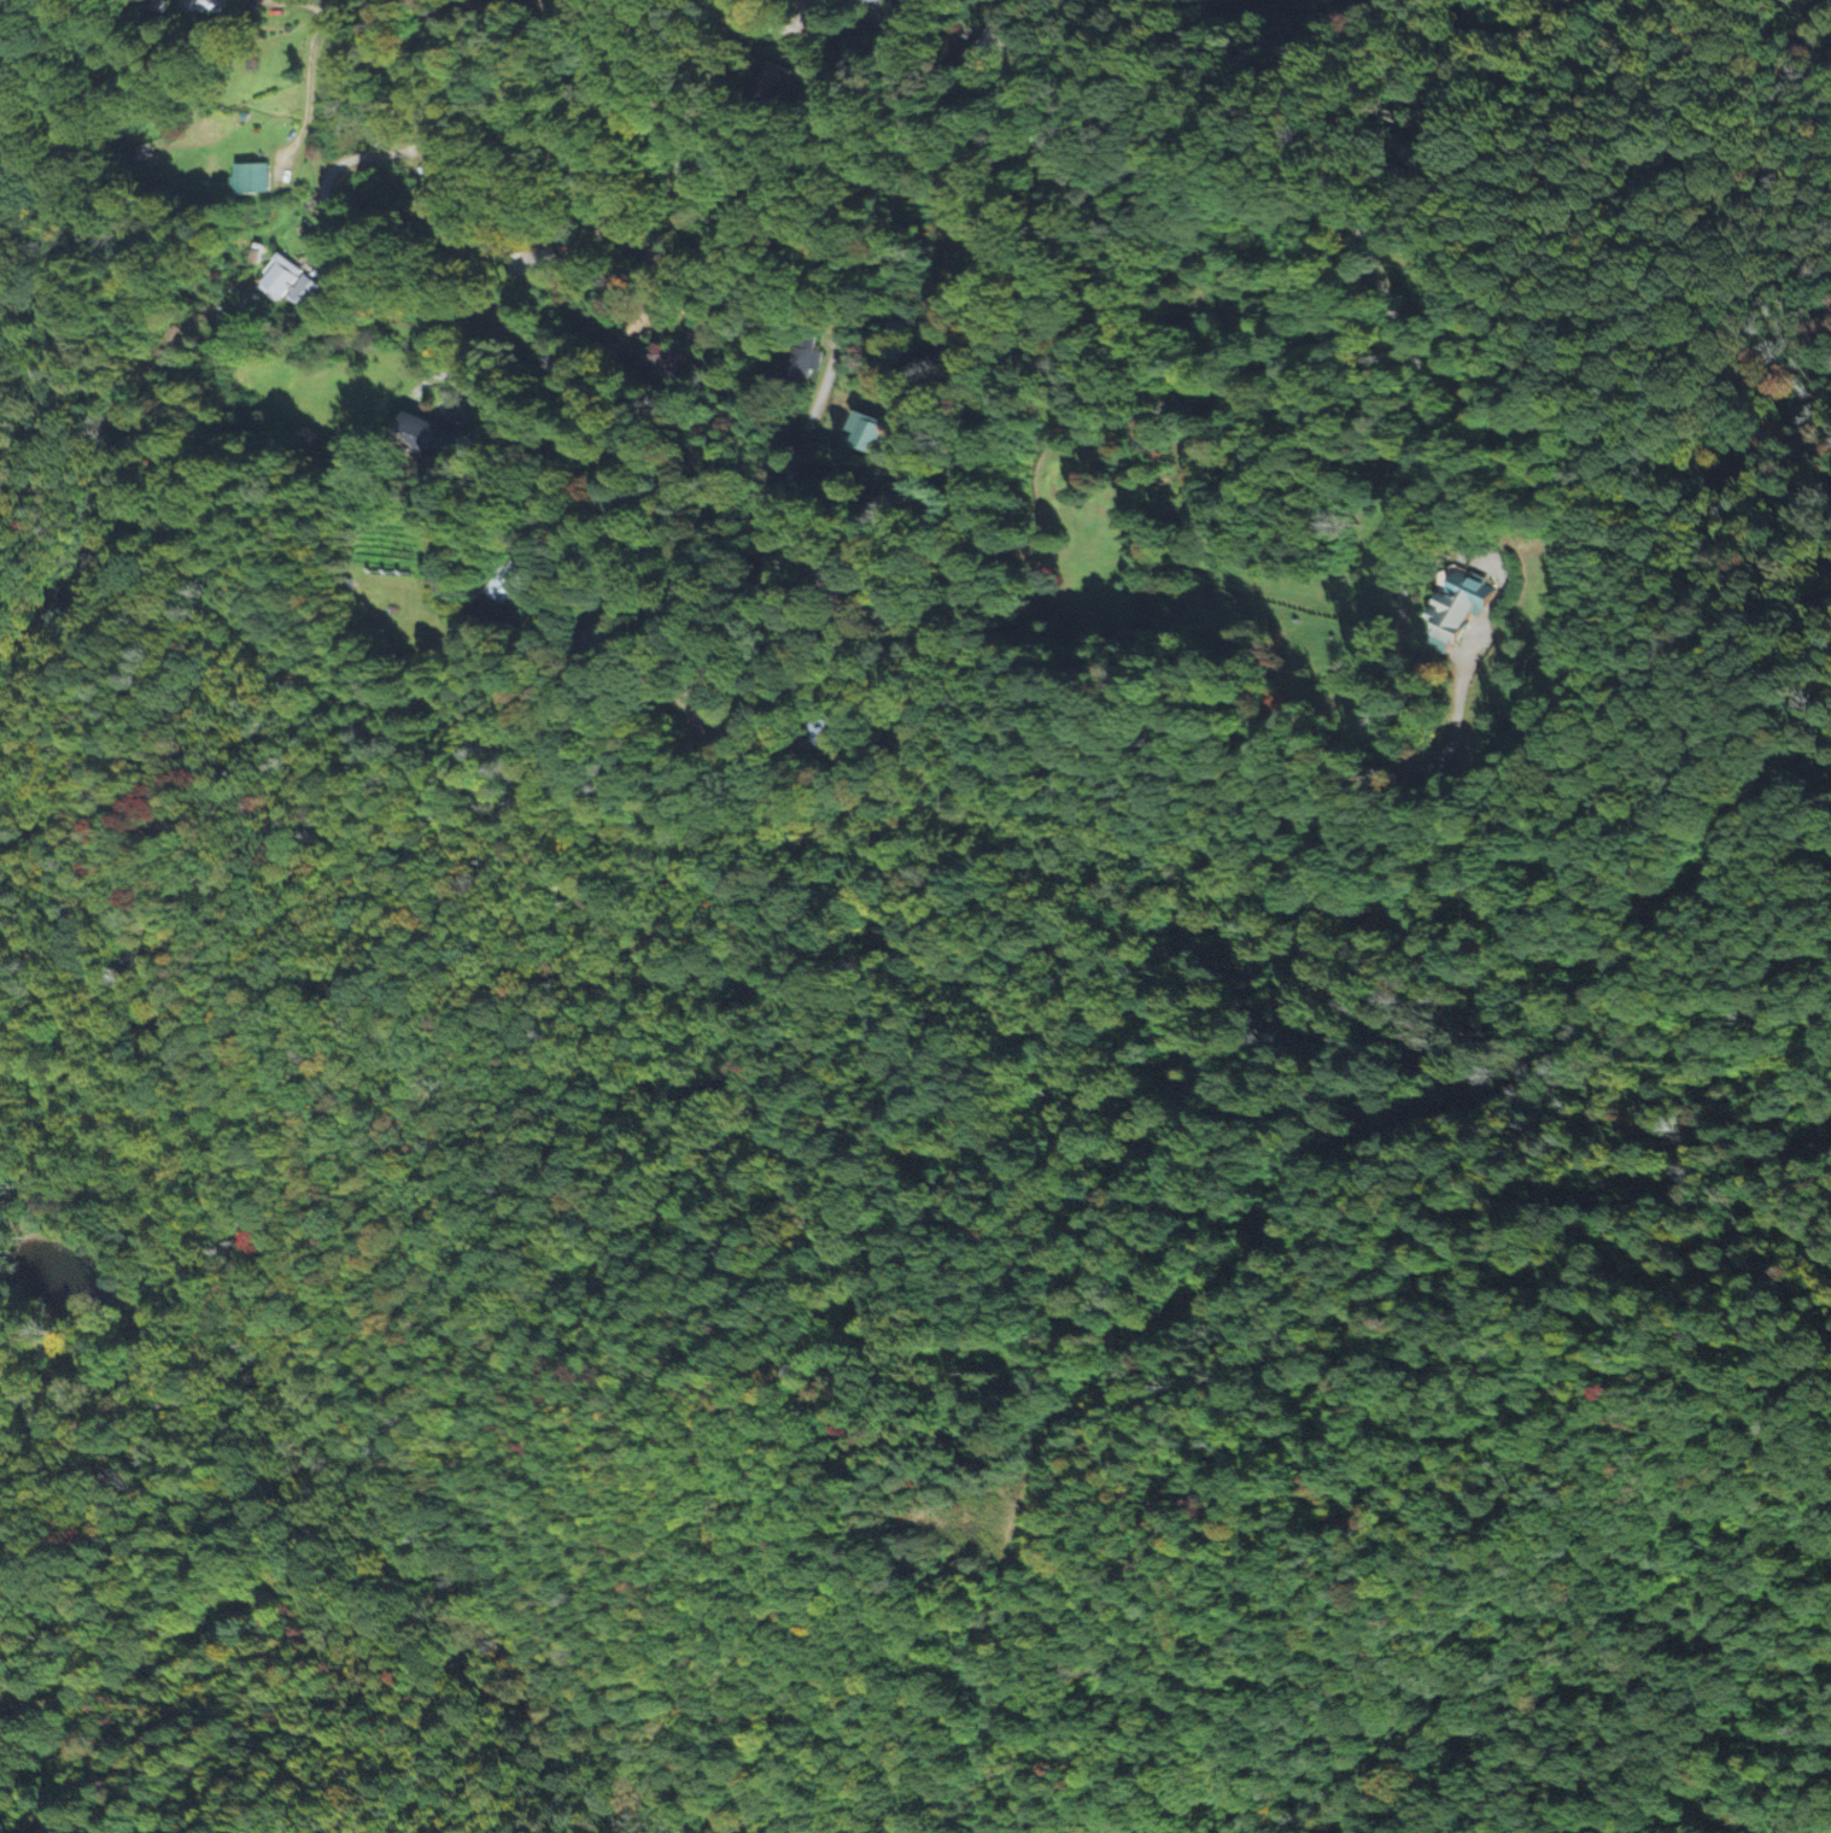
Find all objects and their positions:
building: (876, 1)
building: (203, 7)
road: (718, 24)
road: (528, 135)
road: (683, 146)
road: (397, 152)
building: (426, 176)
building: (251, 180)
building: (531, 269)
building: (279, 280)
building: (303, 294)
building: (899, 338)
road: (926, 341)
building: (808, 362)
road: (808, 415)
building: (867, 433)
road: (601, 470)
road: (913, 470)
building: (511, 584)
building: (1463, 604)
road: (773, 721)
road: (744, 1159)
road: (128, 1669)

